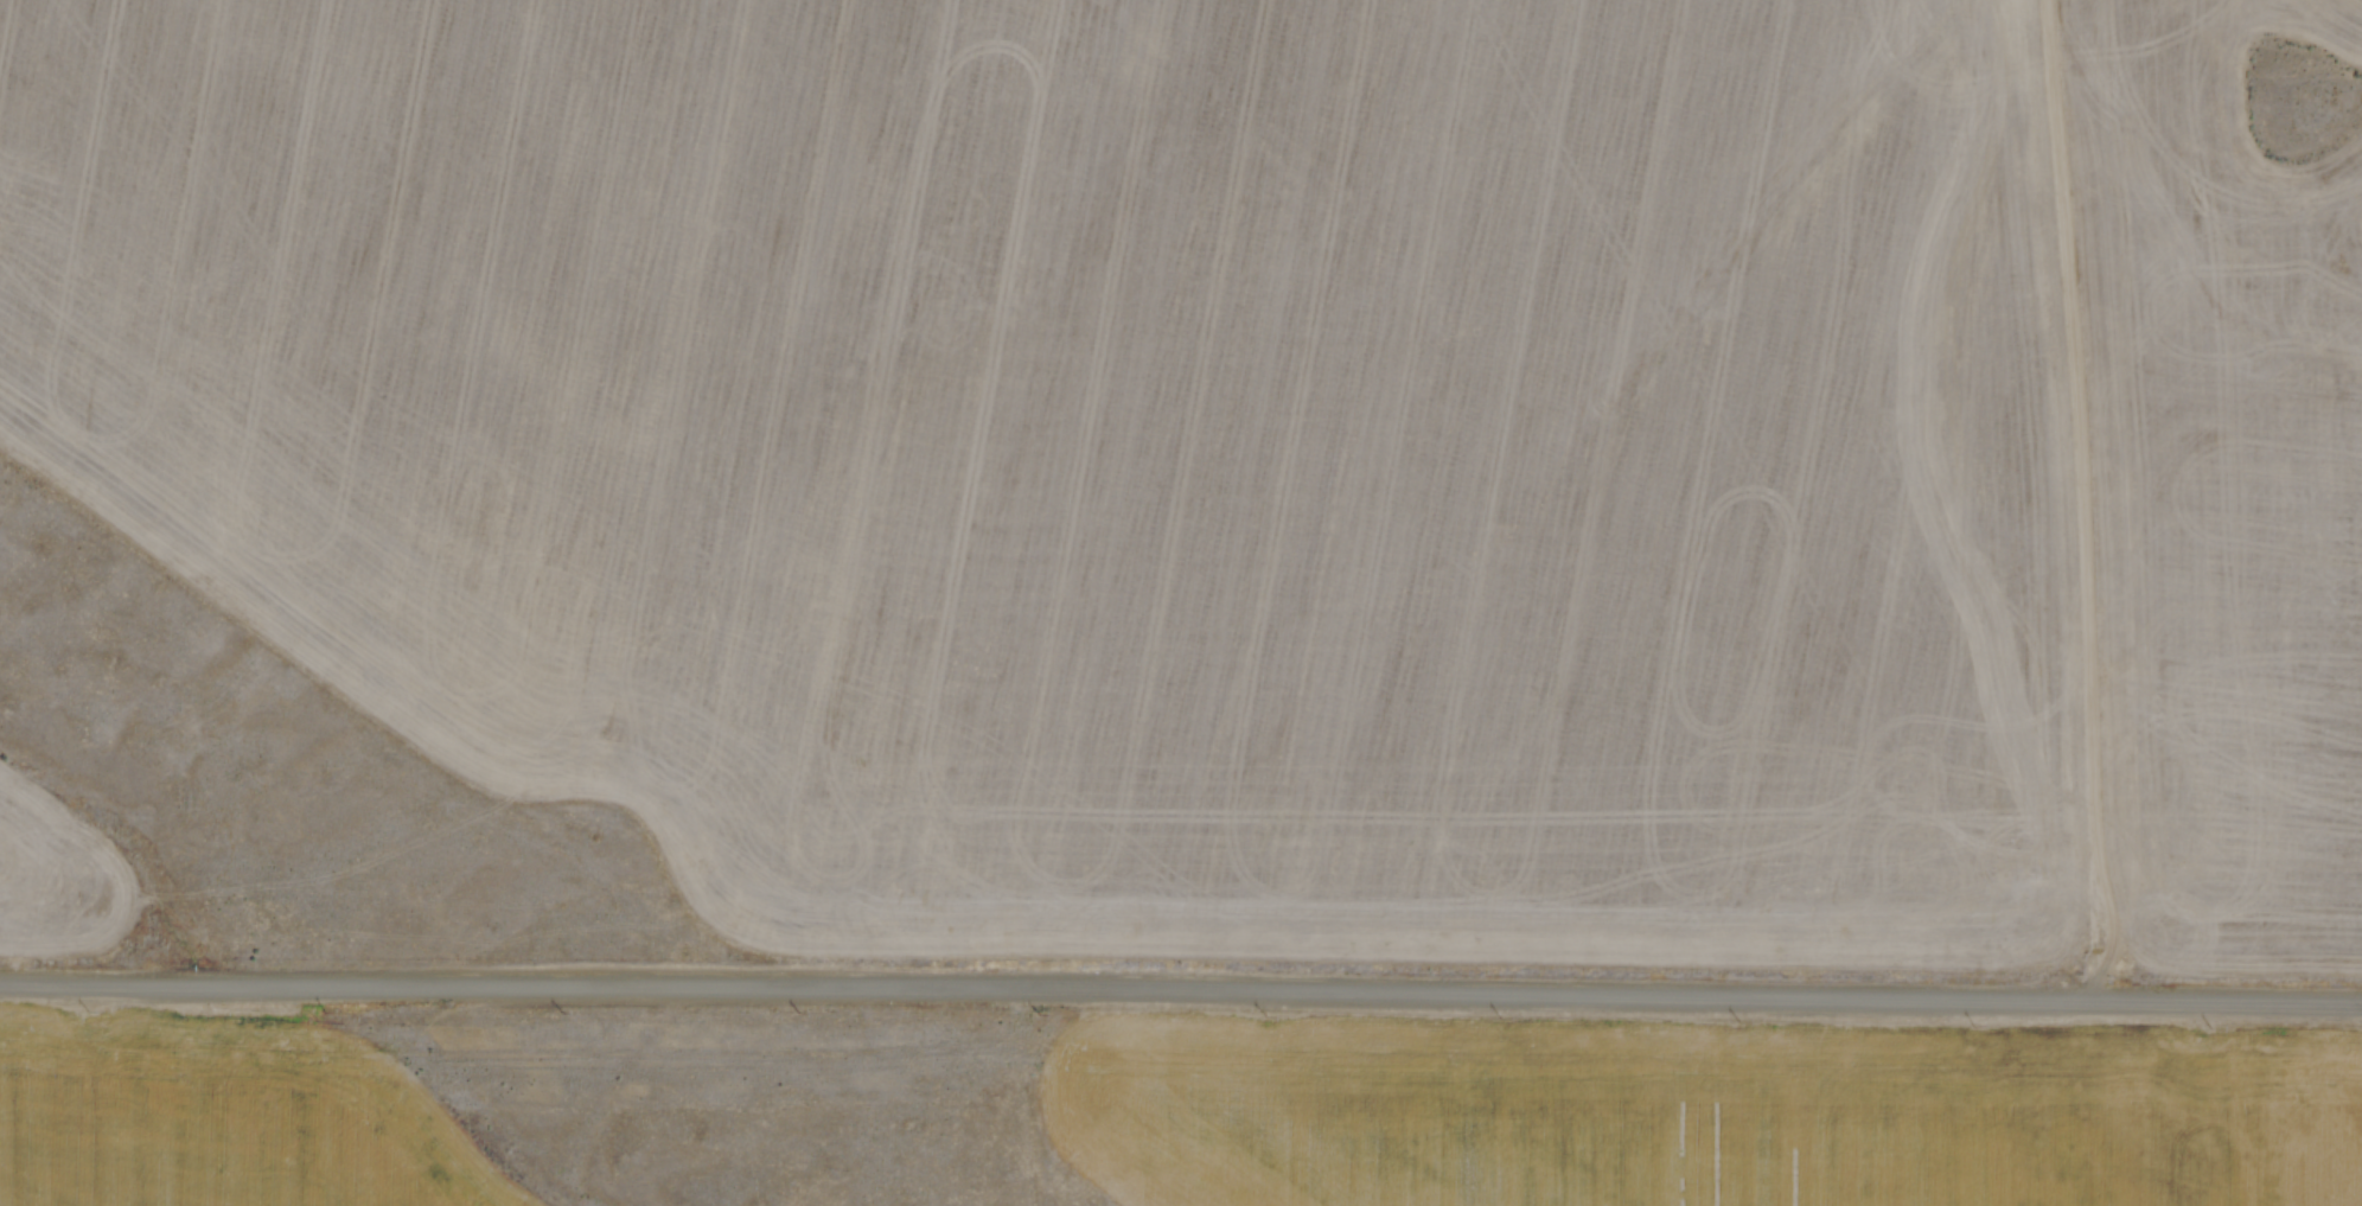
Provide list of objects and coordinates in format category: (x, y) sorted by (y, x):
road: (2080, 500)
road: (1181, 981)

